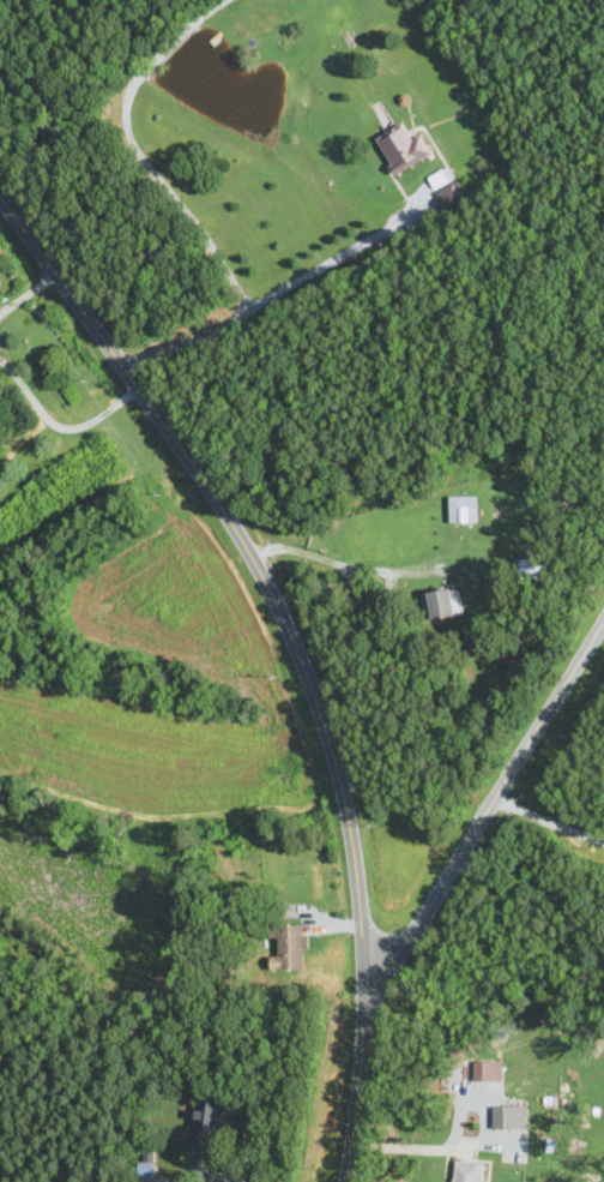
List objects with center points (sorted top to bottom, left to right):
building: (404, 148)
building: (447, 191)
road: (185, 206)
road: (332, 260)
building: (1, 282)
road: (25, 295)
road: (50, 421)
building: (464, 509)
road: (313, 556)
building: (440, 602)
road: (294, 653)
road: (493, 804)
road: (550, 822)
building: (290, 947)
building: (207, 1126)
road: (433, 1147)
building: (469, 1171)
road: (234, 1176)

